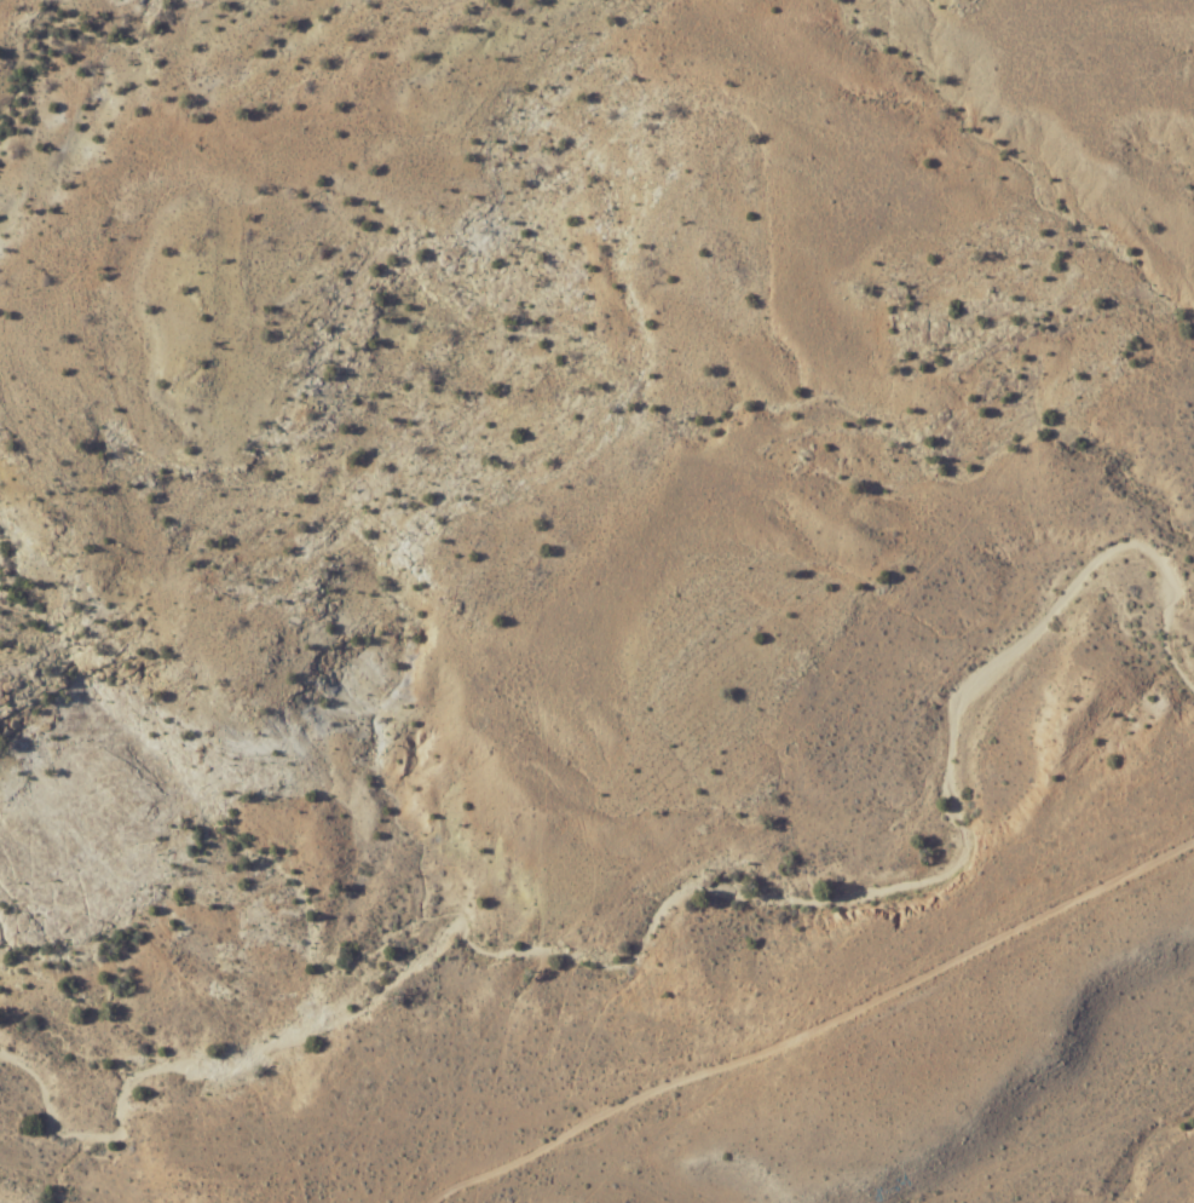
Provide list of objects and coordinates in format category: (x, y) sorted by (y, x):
road: (818, 1026)

